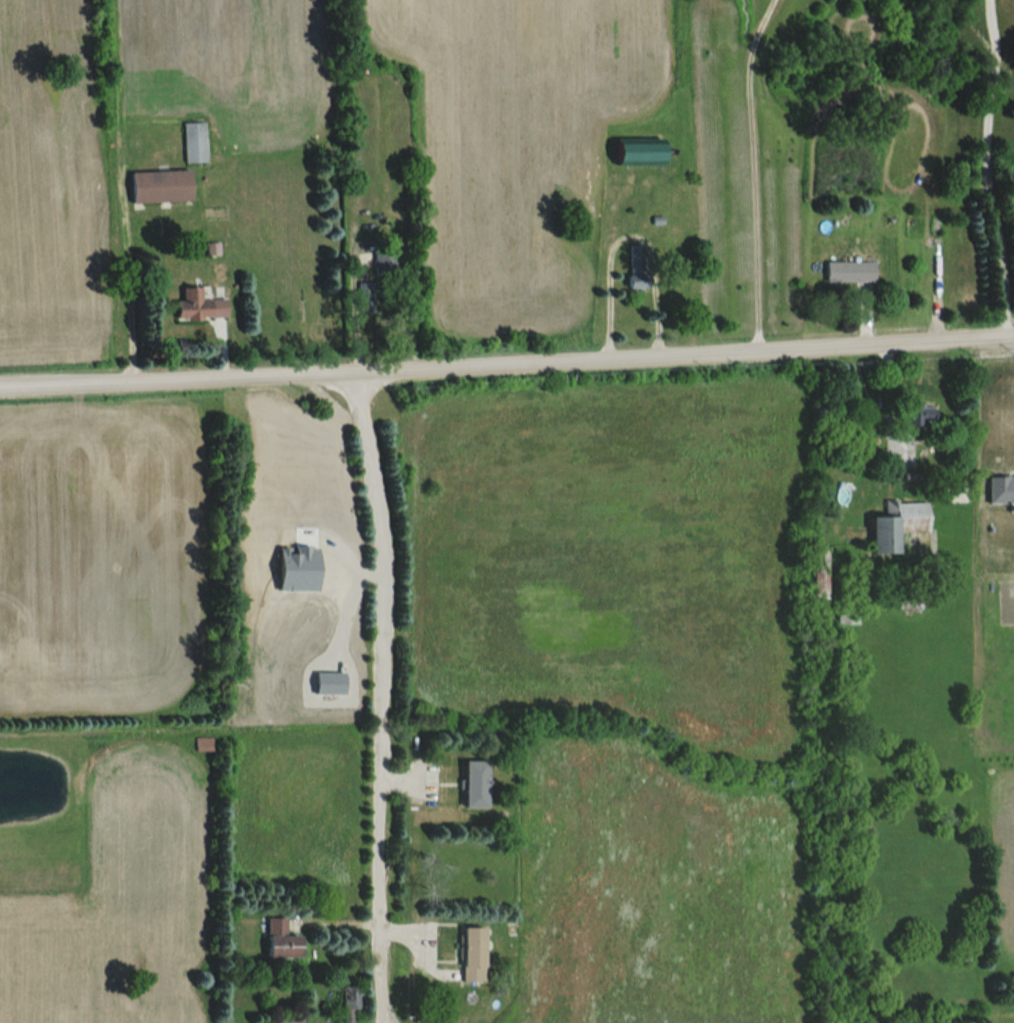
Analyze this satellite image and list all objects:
crop: (226, 65)
building: (193, 143)
crop: (515, 143)
building: (636, 156)
road: (988, 172)
road: (757, 174)
crop: (50, 184)
building: (158, 187)
road: (628, 236)
building: (848, 273)
building: (634, 277)
road: (127, 288)
building: (198, 307)
road: (507, 368)
building: (919, 415)
building: (955, 497)
building: (901, 522)
crop: (611, 549)
crop: (99, 550)
building: (847, 616)
crop: (294, 650)
road: (374, 698)
building: (202, 744)
building: (472, 783)
crop: (1005, 855)
crop: (661, 894)
crop: (116, 908)
building: (279, 939)
building: (470, 954)
building: (348, 1002)
building: (284, 1020)

